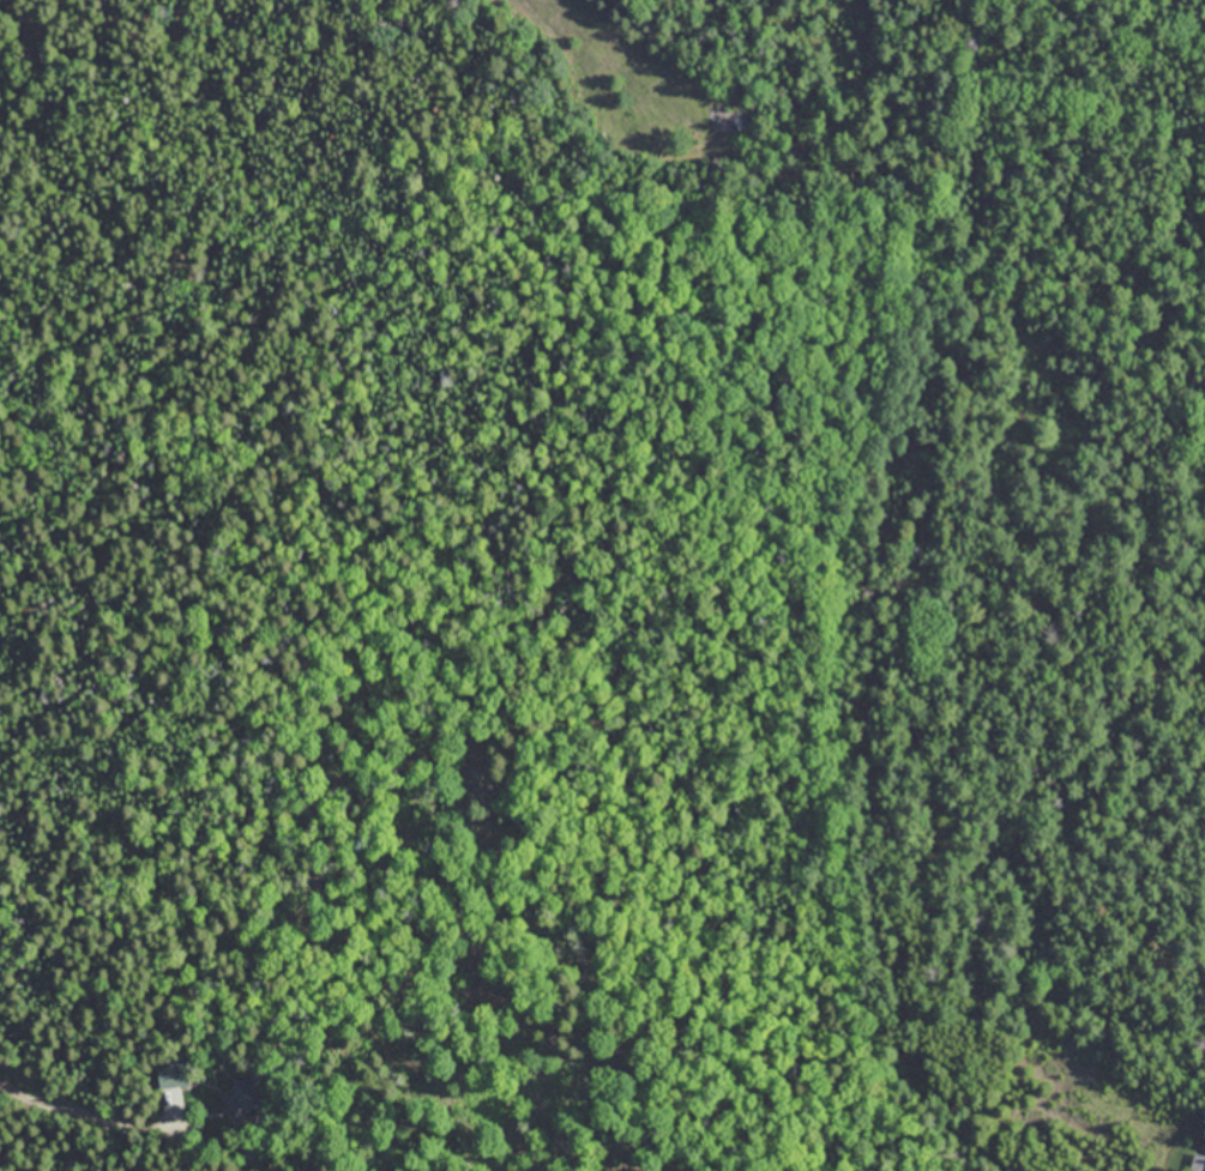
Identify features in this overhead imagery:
building: (240, 1098)
road: (91, 1118)
building: (1203, 1161)

